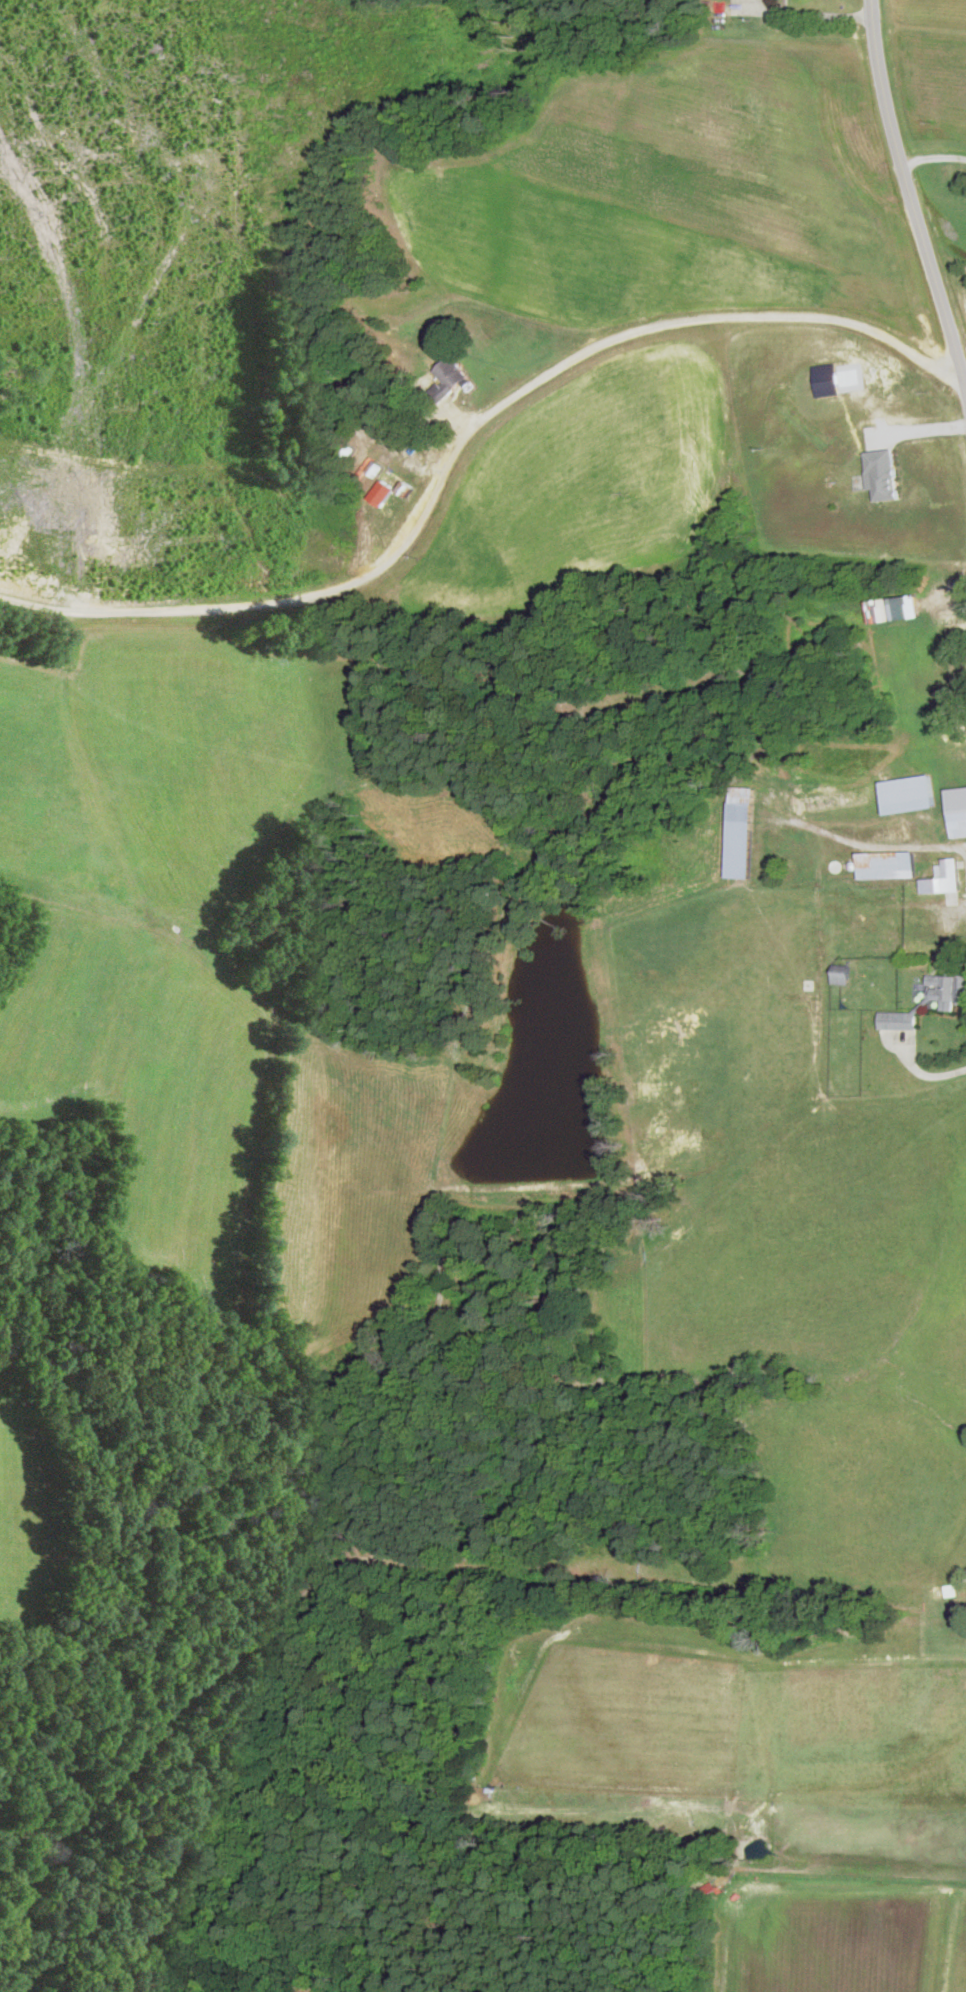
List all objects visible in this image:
road: (815, 12)
road: (933, 158)
road: (910, 194)
building: (452, 373)
road: (466, 425)
building: (391, 477)
building: (896, 608)
building: (951, 625)
building: (963, 674)
building: (909, 793)
building: (834, 798)
building: (958, 810)
building: (742, 831)
building: (791, 845)
building: (887, 864)
building: (944, 877)
building: (919, 948)
building: (842, 973)
building: (963, 989)
building: (945, 992)
building: (898, 1020)
road: (924, 1065)
building: (947, 1591)

